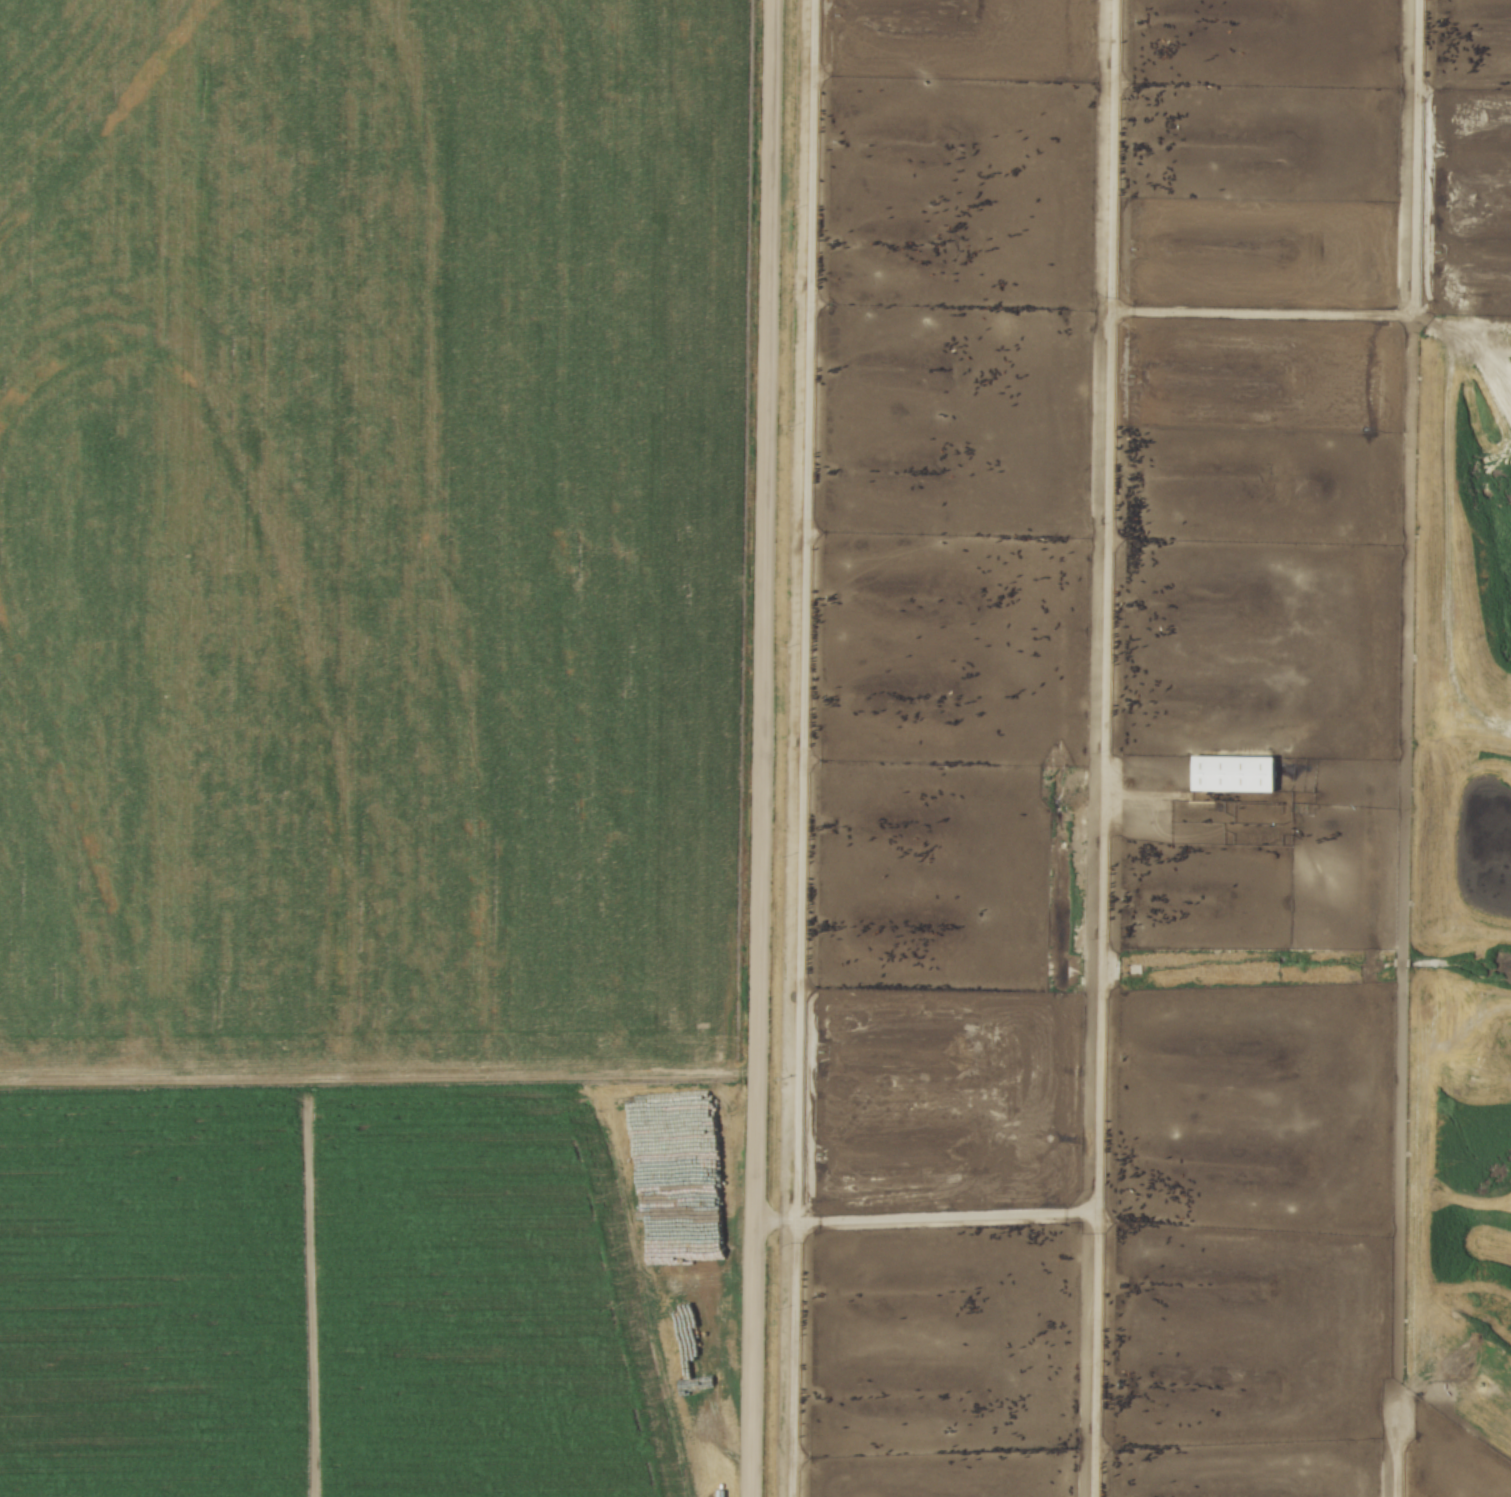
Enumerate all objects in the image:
road: (762, 748)
building: (1246, 778)

